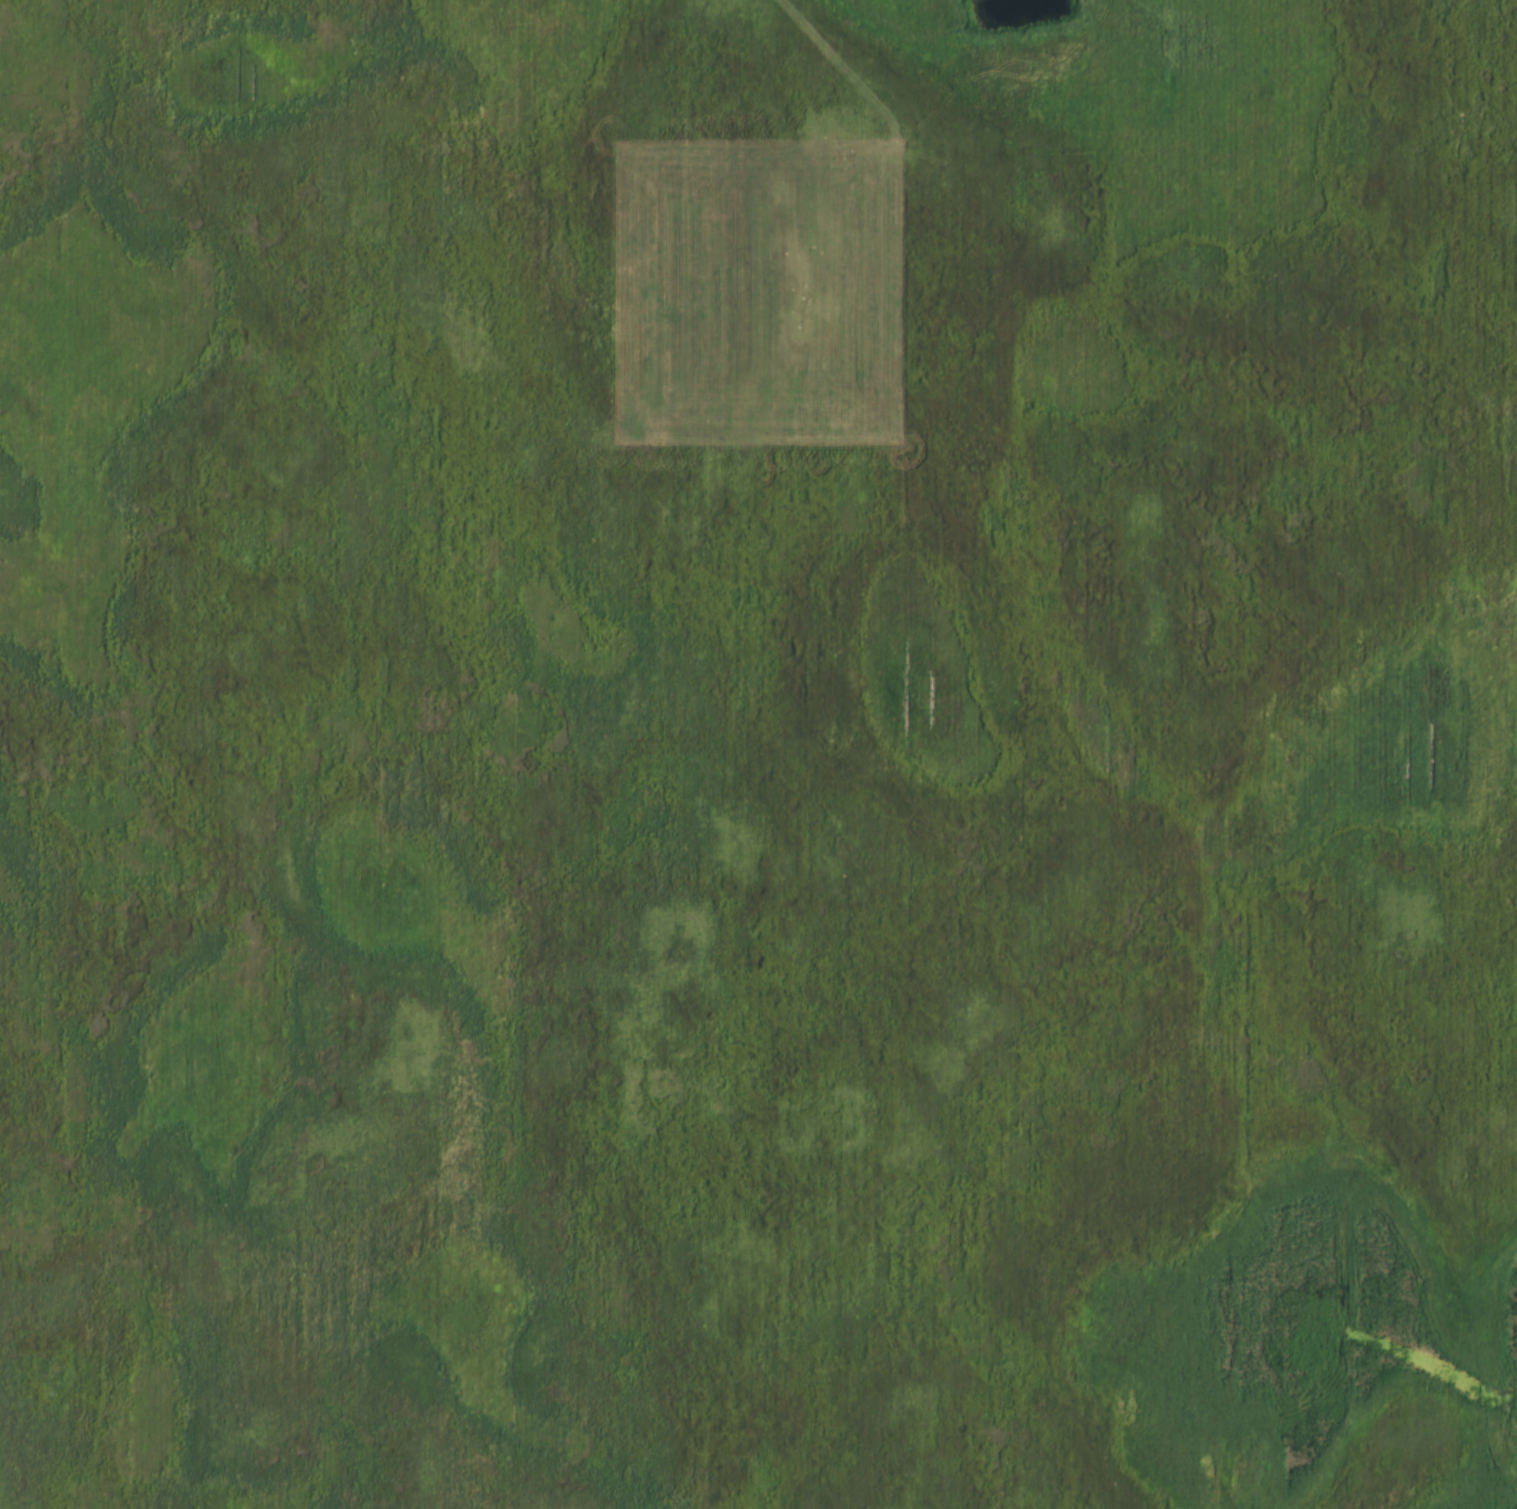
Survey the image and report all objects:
building: (551, 824)
building: (940, 903)

